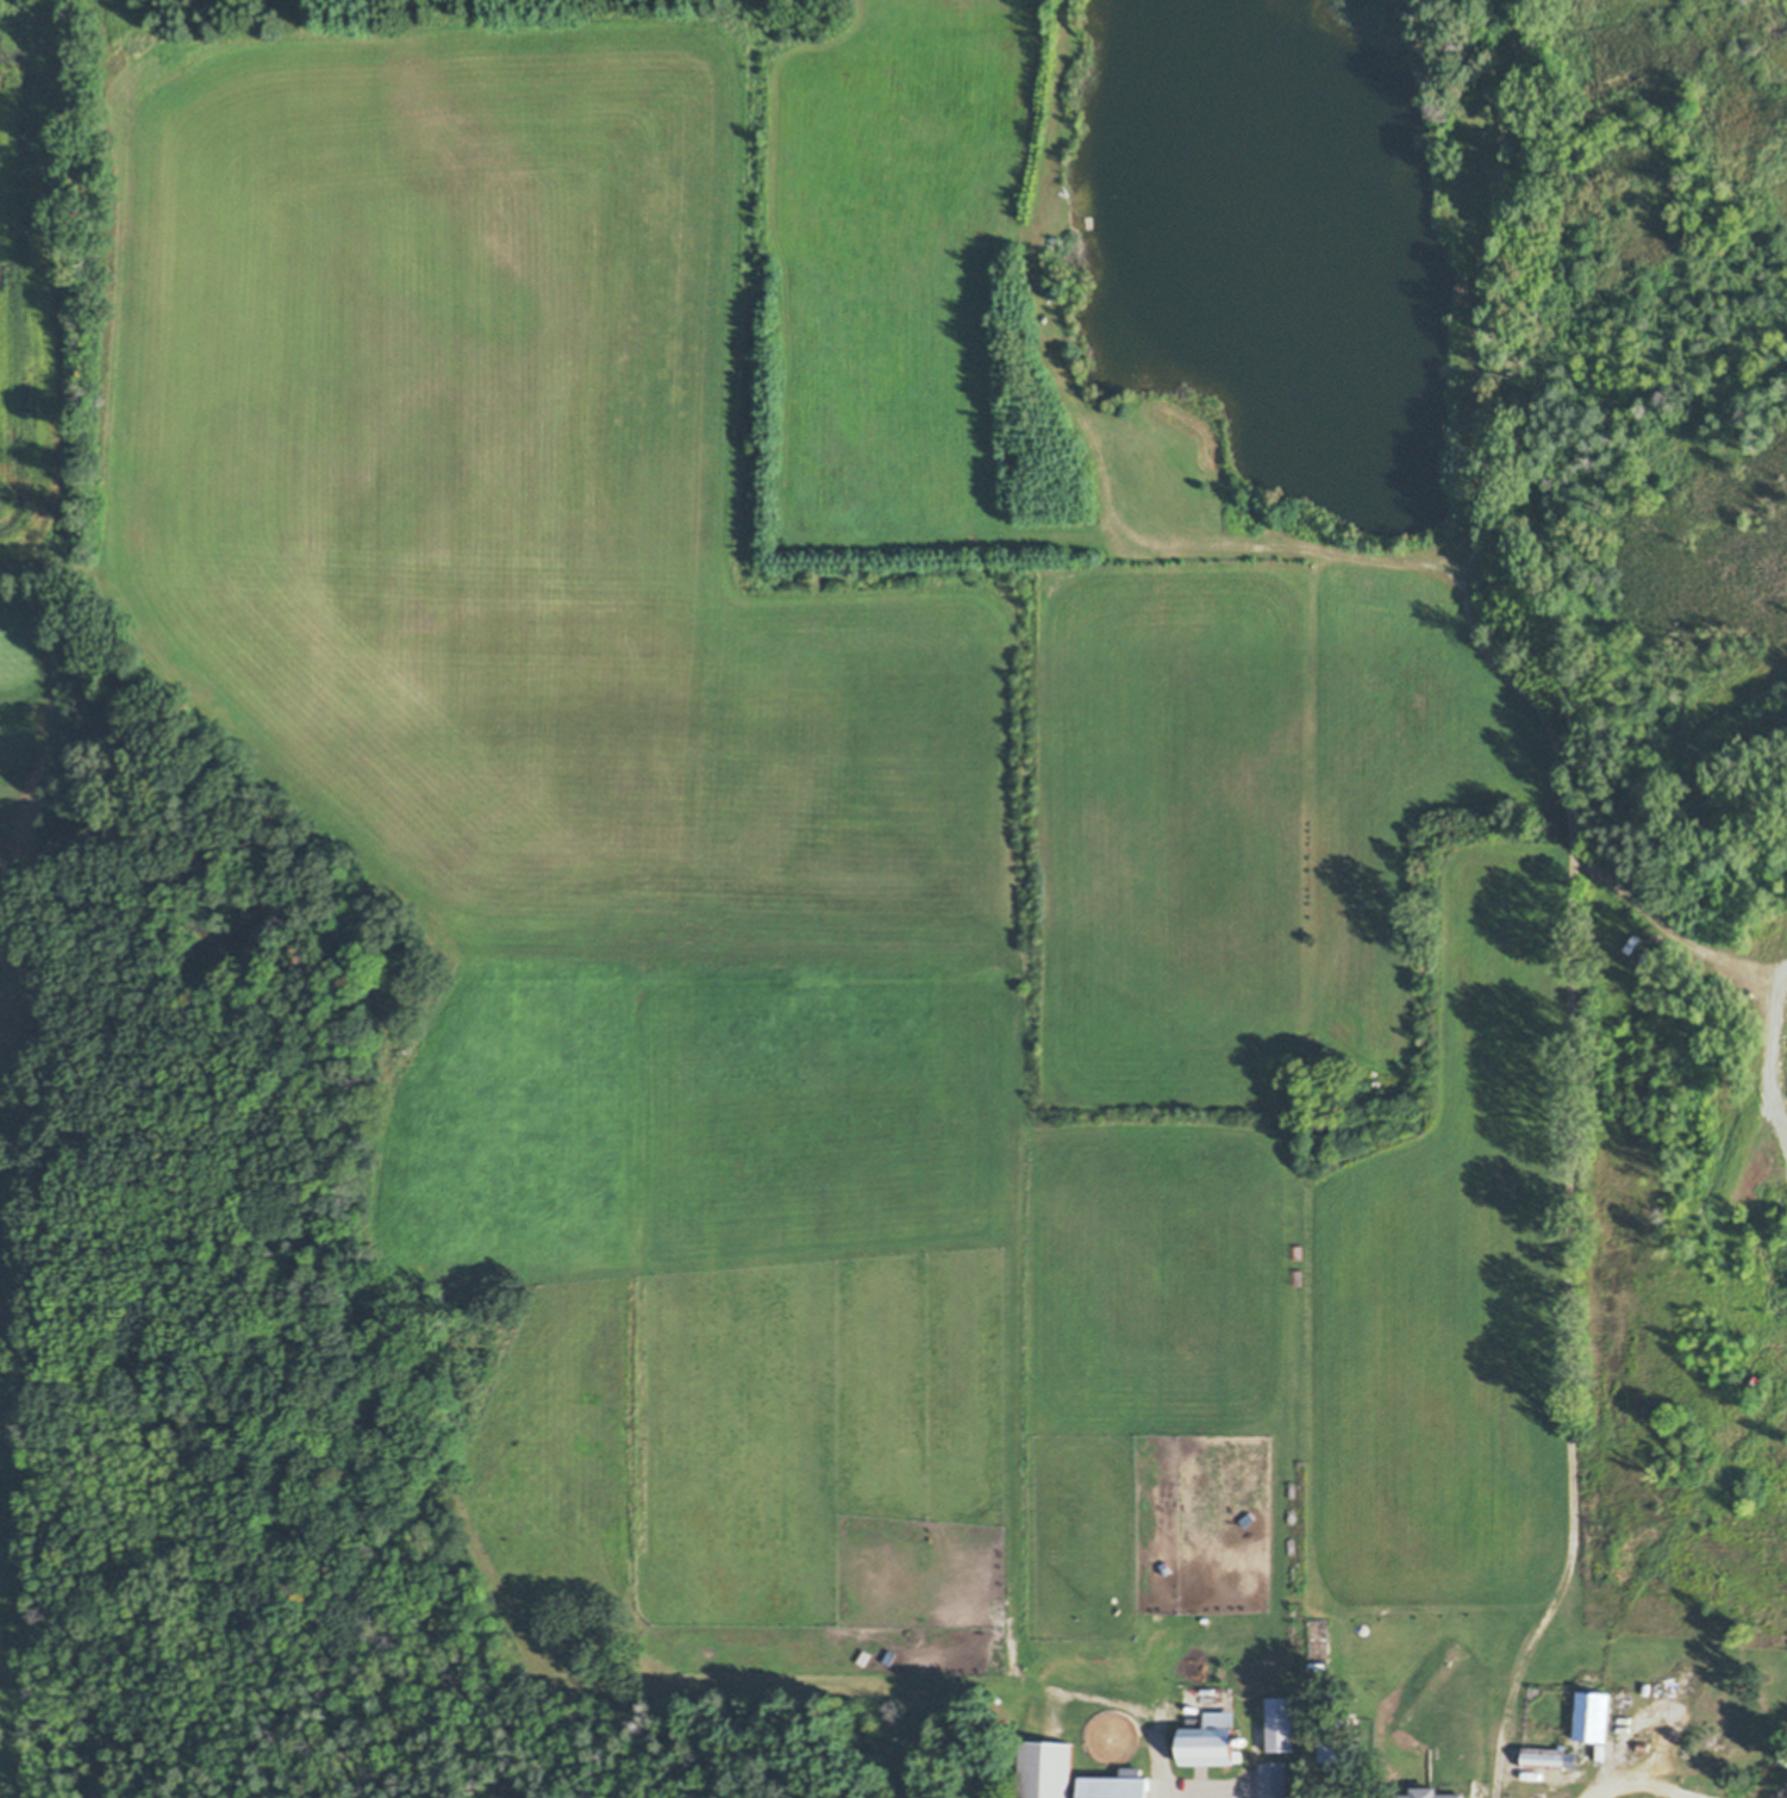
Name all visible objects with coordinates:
building: (1086, 220)
building: (1091, 220)
building: (1054, 241)
building: (1594, 848)
park: (30, 1154)
crop: (1685, 1242)
building: (1249, 1519)
building: (1164, 1565)
building: (999, 1584)
building: (1010, 1588)
building: (1206, 1619)
building: (866, 1657)
building: (891, 1657)
road: (1661, 1708)
building: (1593, 1716)
building: (1282, 1725)
building: (1212, 1738)
building: (1245, 1742)
building: (1643, 1747)
building: (1550, 1759)
building: (1049, 1769)
road: (1175, 1769)
building: (1275, 1780)
building: (1114, 1787)
road: (1599, 1788)
building: (1430, 1793)

